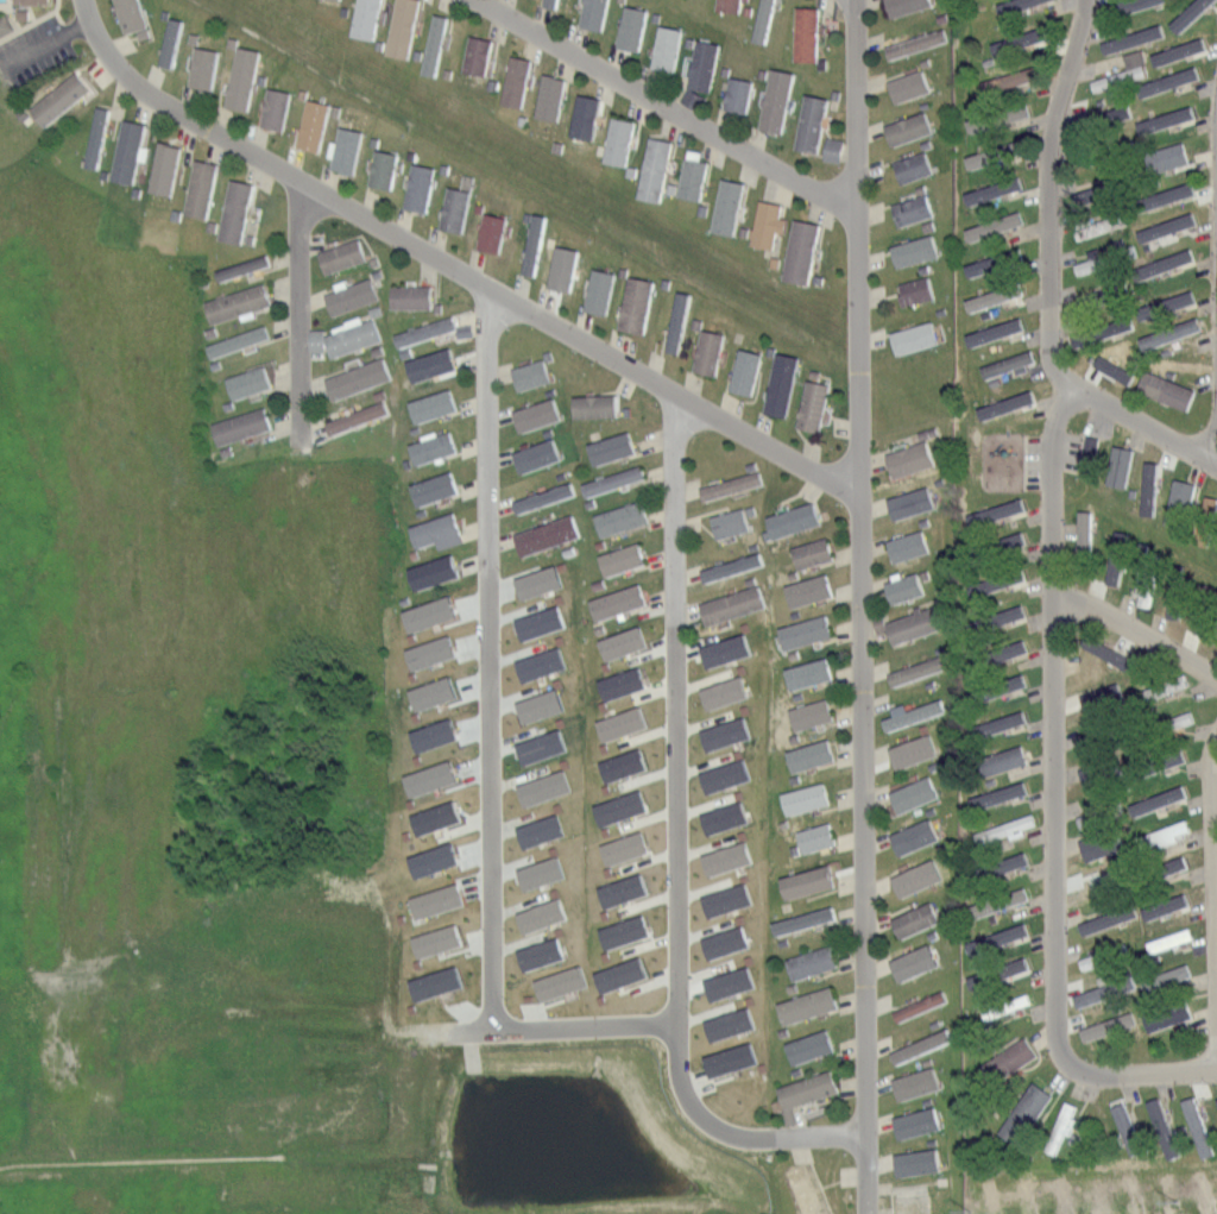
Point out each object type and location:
building: (330, 1)
building: (32, 2)
building: (551, 2)
building: (1131, 4)
building: (730, 5)
building: (908, 6)
building: (1015, 6)
park: (30, 12)
building: (1185, 12)
building: (24, 13)
road: (33, 14)
building: (595, 14)
road: (59, 15)
building: (132, 15)
building: (367, 18)
building: (764, 20)
road: (17, 21)
road: (32, 23)
building: (6, 24)
road: (78, 26)
building: (633, 27)
building: (404, 29)
building: (807, 33)
building: (1128, 37)
building: (1016, 39)
building: (172, 43)
building: (918, 43)
building: (436, 44)
building: (668, 46)
road: (36, 50)
building: (1174, 50)
building: (479, 55)
building: (705, 65)
building: (206, 68)
building: (1118, 76)
building: (242, 78)
building: (1009, 78)
building: (517, 81)
building: (1165, 81)
building: (910, 86)
building: (740, 93)
building: (553, 98)
building: (778, 99)
building: (59, 100)
road: (666, 102)
building: (277, 108)
building: (1115, 112)
building: (1004, 117)
building: (586, 118)
building: (1162, 118)
building: (814, 122)
building: (314, 125)
building: (910, 128)
building: (99, 137)
park: (11, 138)
building: (620, 141)
building: (347, 150)
building: (1110, 151)
building: (128, 152)
building: (1162, 156)
building: (975, 158)
building: (914, 166)
building: (165, 168)
building: (384, 169)
building: (656, 169)
building: (693, 178)
building: (421, 187)
building: (1002, 187)
building: (202, 188)
building: (1162, 195)
building: (730, 206)
building: (456, 208)
building: (914, 208)
building: (237, 210)
building: (1001, 219)
building: (768, 224)
building: (1101, 225)
building: (1162, 226)
building: (492, 232)
building: (536, 245)
building: (916, 250)
building: (803, 251)
building: (345, 256)
building: (1104, 258)
building: (1162, 262)
road: (453, 263)
building: (976, 265)
building: (244, 268)
building: (566, 271)
building: (600, 290)
building: (918, 290)
building: (1106, 294)
building: (353, 295)
building: (1002, 295)
building: (412, 296)
building: (1175, 298)
road: (299, 301)
building: (240, 303)
building: (638, 304)
building: (1142, 309)
building: (680, 322)
building: (1104, 329)
building: (428, 331)
building: (991, 331)
building: (1169, 332)
building: (353, 336)
building: (916, 338)
building: (239, 341)
building: (711, 353)
building: (430, 360)
building: (1007, 363)
building: (748, 371)
building: (532, 375)
building: (360, 377)
building: (251, 382)
building: (783, 384)
building: (1167, 389)
building: (435, 404)
building: (1002, 404)
building: (598, 405)
building: (815, 405)
building: (538, 415)
building: (358, 417)
road: (1134, 420)
building: (242, 426)
road: (1216, 434)
building: (613, 447)
building: (434, 448)
park: (988, 454)
building: (1090, 454)
building: (538, 455)
parking lot: (1029, 458)
building: (913, 459)
road: (1021, 459)
building: (1115, 460)
building: (616, 480)
building: (1146, 480)
building: (732, 485)
building: (436, 488)
building: (546, 497)
building: (913, 503)
building: (1180, 503)
building: (996, 510)
building: (622, 518)
building: (795, 520)
building: (1206, 521)
building: (731, 522)
building: (1080, 529)
building: (437, 531)
road: (1053, 531)
building: (548, 535)
building: (1004, 542)
building: (1085, 543)
building: (910, 546)
building: (814, 553)
building: (624, 559)
building: (1117, 561)
building: (734, 567)
building: (1110, 570)
building: (436, 572)
building: (1005, 578)
building: (535, 580)
building: (1148, 580)
road: (859, 589)
building: (906, 589)
building: (812, 591)
building: (1180, 592)
building: (619, 602)
building: (733, 605)
building: (424, 612)
building: (1004, 614)
building: (1207, 616)
building: (535, 622)
building: (919, 623)
road: (1135, 630)
building: (807, 631)
building: (618, 642)
building: (721, 649)
building: (1005, 649)
building: (1102, 649)
road: (491, 650)
building: (427, 652)
building: (536, 663)
building: (1098, 668)
building: (920, 669)
building: (811, 672)
building: (617, 683)
building: (1002, 684)
building: (1165, 686)
building: (429, 692)
building: (720, 692)
road: (676, 700)
building: (536, 705)
building: (913, 709)
building: (813, 713)
building: (998, 722)
building: (618, 723)
building: (1167, 724)
building: (721, 732)
building: (429, 734)
building: (537, 746)
road: (1216, 750)
building: (915, 753)
building: (812, 755)
building: (1003, 759)
building: (1164, 762)
building: (619, 763)
building: (721, 774)
building: (425, 778)
building: (540, 787)
building: (998, 793)
building: (915, 794)
building: (808, 798)
building: (1153, 799)
building: (616, 806)
building: (1098, 813)
building: (430, 817)
building: (720, 817)
crop: (165, 819)
building: (1005, 829)
building: (536, 830)
building: (1164, 832)
building: (915, 836)
building: (819, 837)
building: (619, 848)
building: (1103, 848)
building: (723, 857)
building: (428, 860)
building: (1008, 861)
building: (1162, 869)
building: (536, 872)
building: (922, 876)
building: (811, 882)
building: (1102, 885)
building: (619, 889)
building: (724, 899)
building: (1004, 899)
building: (431, 900)
building: (1161, 906)
building: (536, 914)
building: (1104, 918)
building: (807, 920)
building: (918, 920)
building: (619, 931)
building: (1005, 933)
building: (1168, 938)
building: (433, 939)
building: (721, 941)
building: (536, 952)
building: (1103, 956)
building: (918, 961)
building: (813, 963)
building: (1004, 969)
building: (617, 974)
building: (1167, 977)
building: (431, 982)
building: (556, 982)
building: (726, 982)
building: (1102, 992)
building: (809, 1004)
building: (922, 1006)
building: (1005, 1006)
road: (588, 1013)
building: (1166, 1014)
building: (726, 1023)
building: (1105, 1026)
building: (813, 1045)
building: (922, 1045)
building: (1008, 1057)
building: (727, 1058)
road: (1141, 1071)
building: (919, 1082)
building: (812, 1088)
building: (1215, 1103)
building: (1024, 1114)
road: (732, 1120)
building: (918, 1122)
building: (1160, 1122)
building: (1059, 1127)
building: (1128, 1127)
building: (1198, 1127)
building: (919, 1162)

